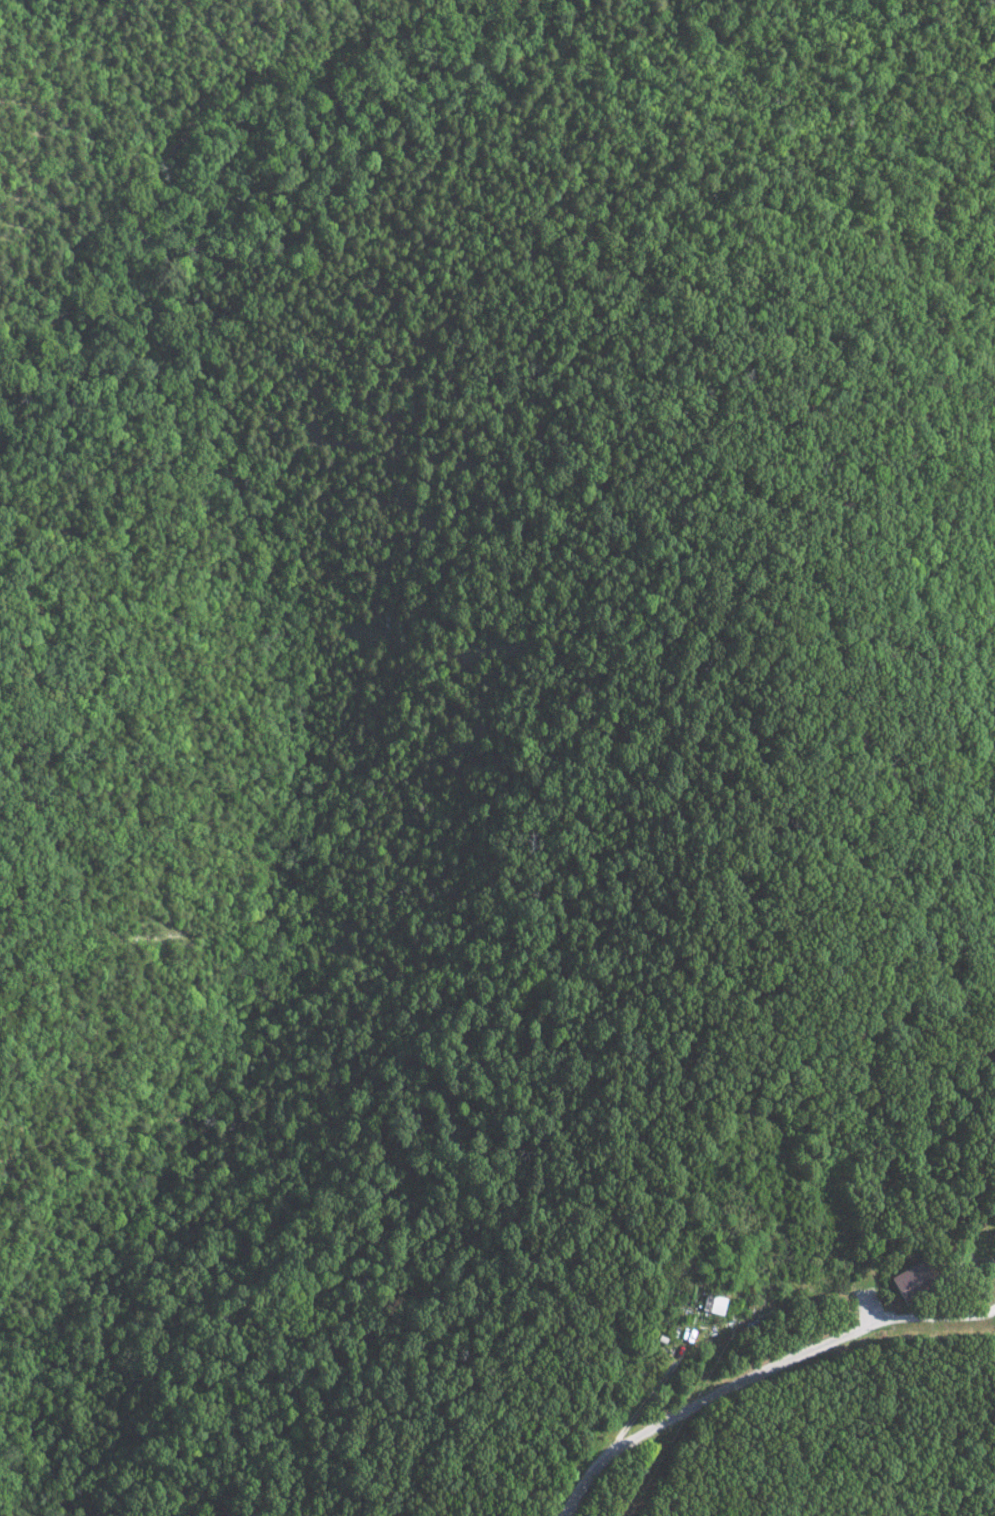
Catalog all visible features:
building: (907, 1282)
road: (951, 1283)
building: (709, 1306)
road: (954, 1316)
road: (886, 1319)
road: (698, 1401)

